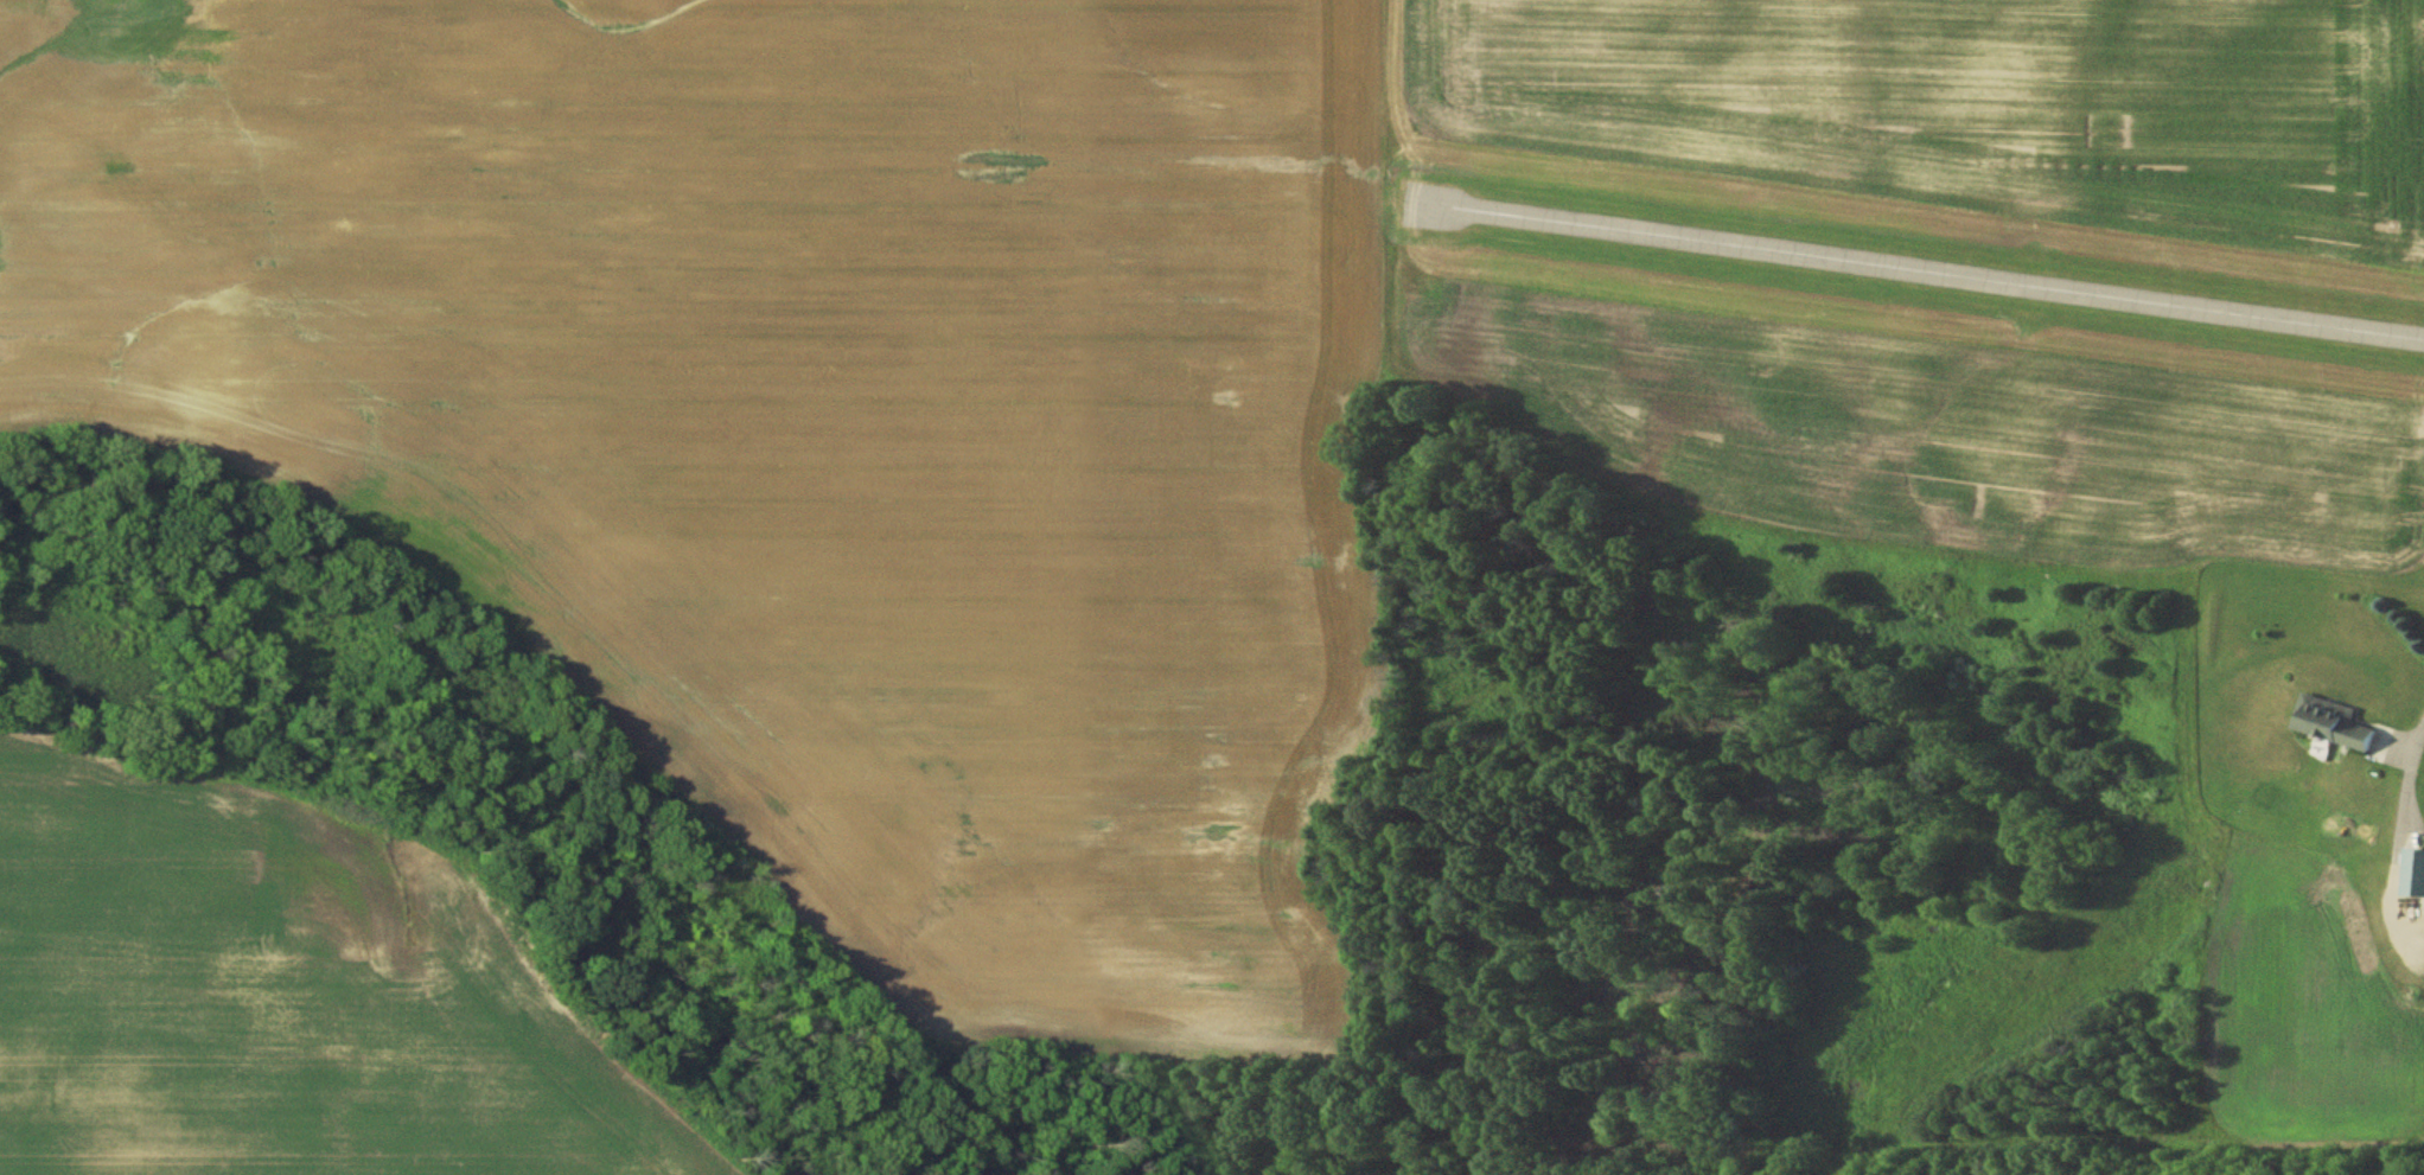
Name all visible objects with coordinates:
airport runway: (1914, 273)
building: (2331, 724)

